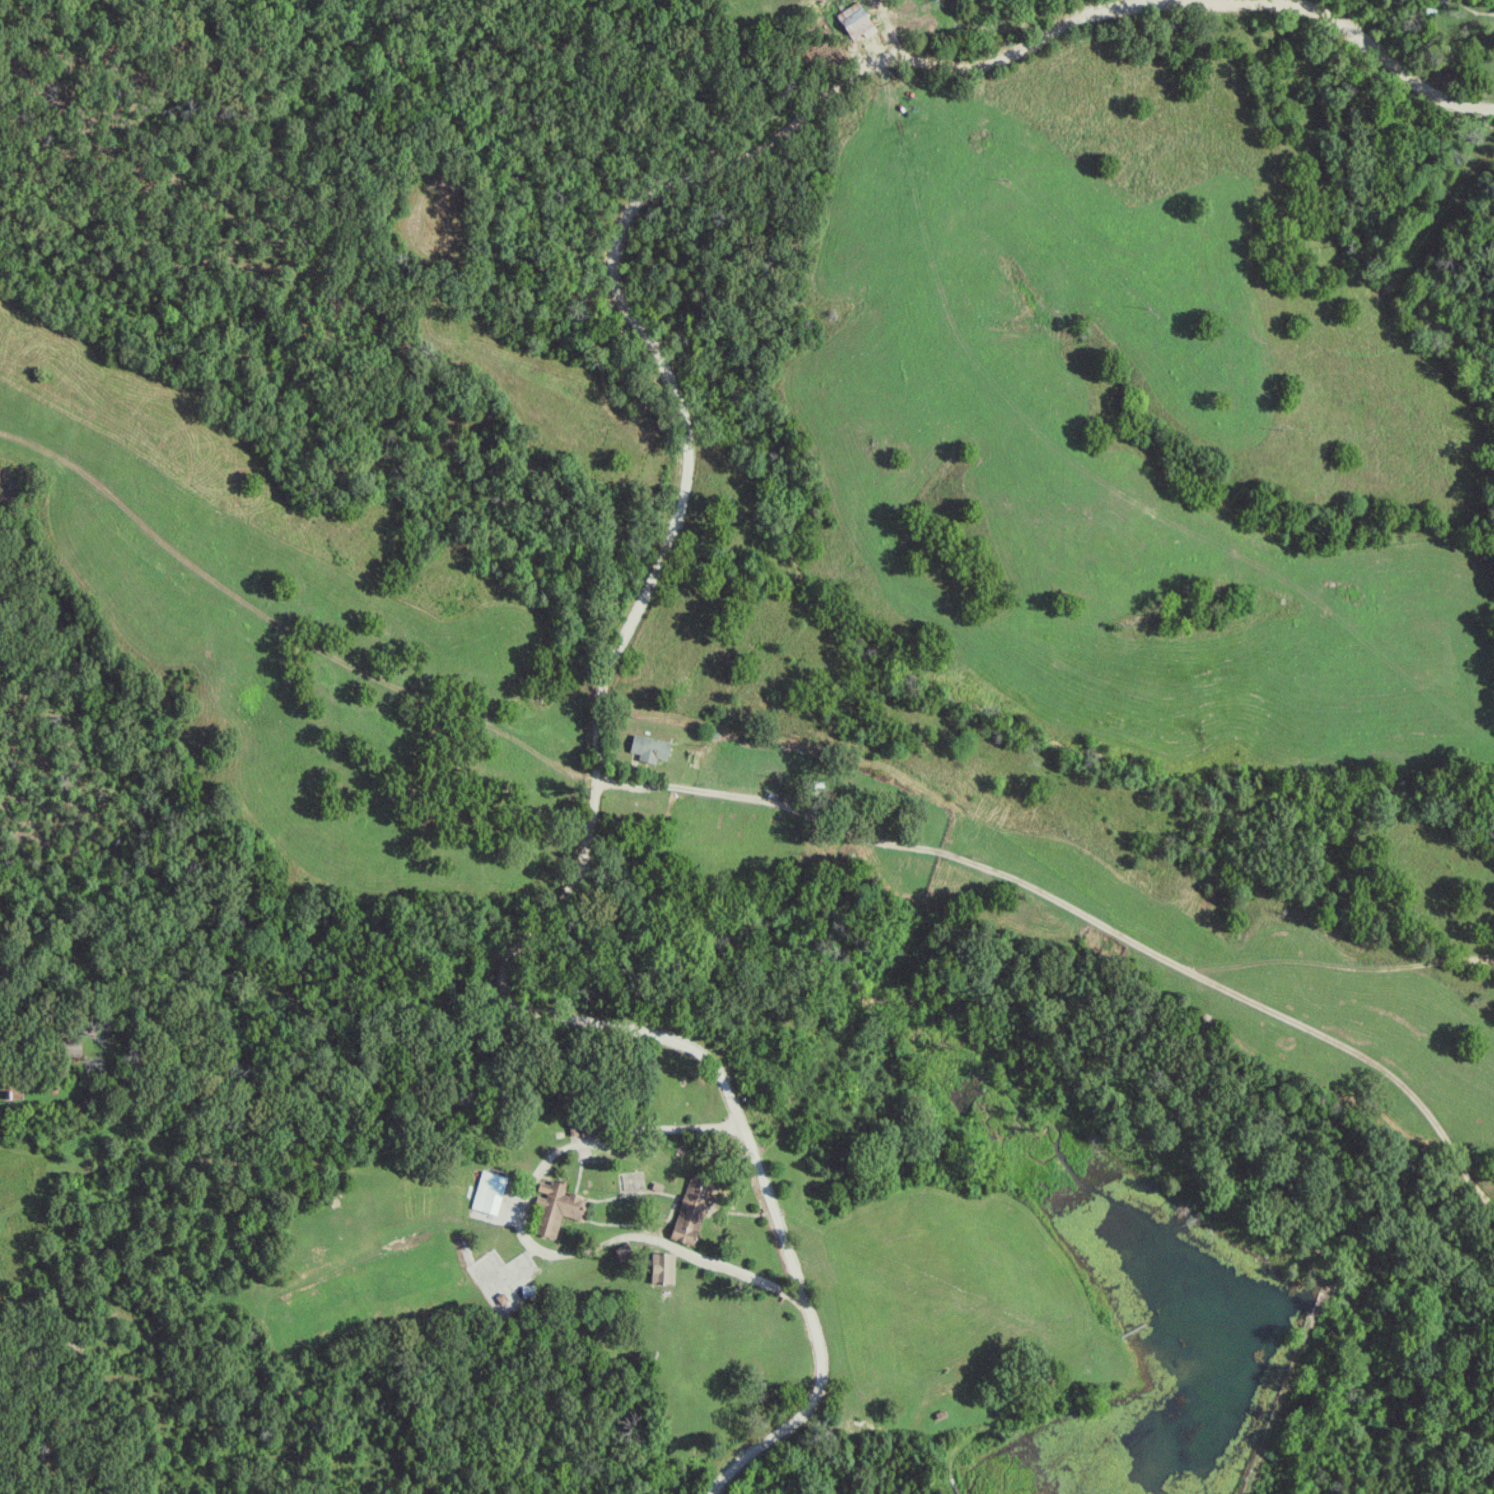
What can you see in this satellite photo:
building: (859, 22)
road: (1399, 63)
road: (598, 702)
building: (653, 748)
building: (491, 1193)
building: (558, 1209)
building: (692, 1210)
road: (529, 1243)
building: (626, 1252)
building: (666, 1268)
building: (530, 1291)

